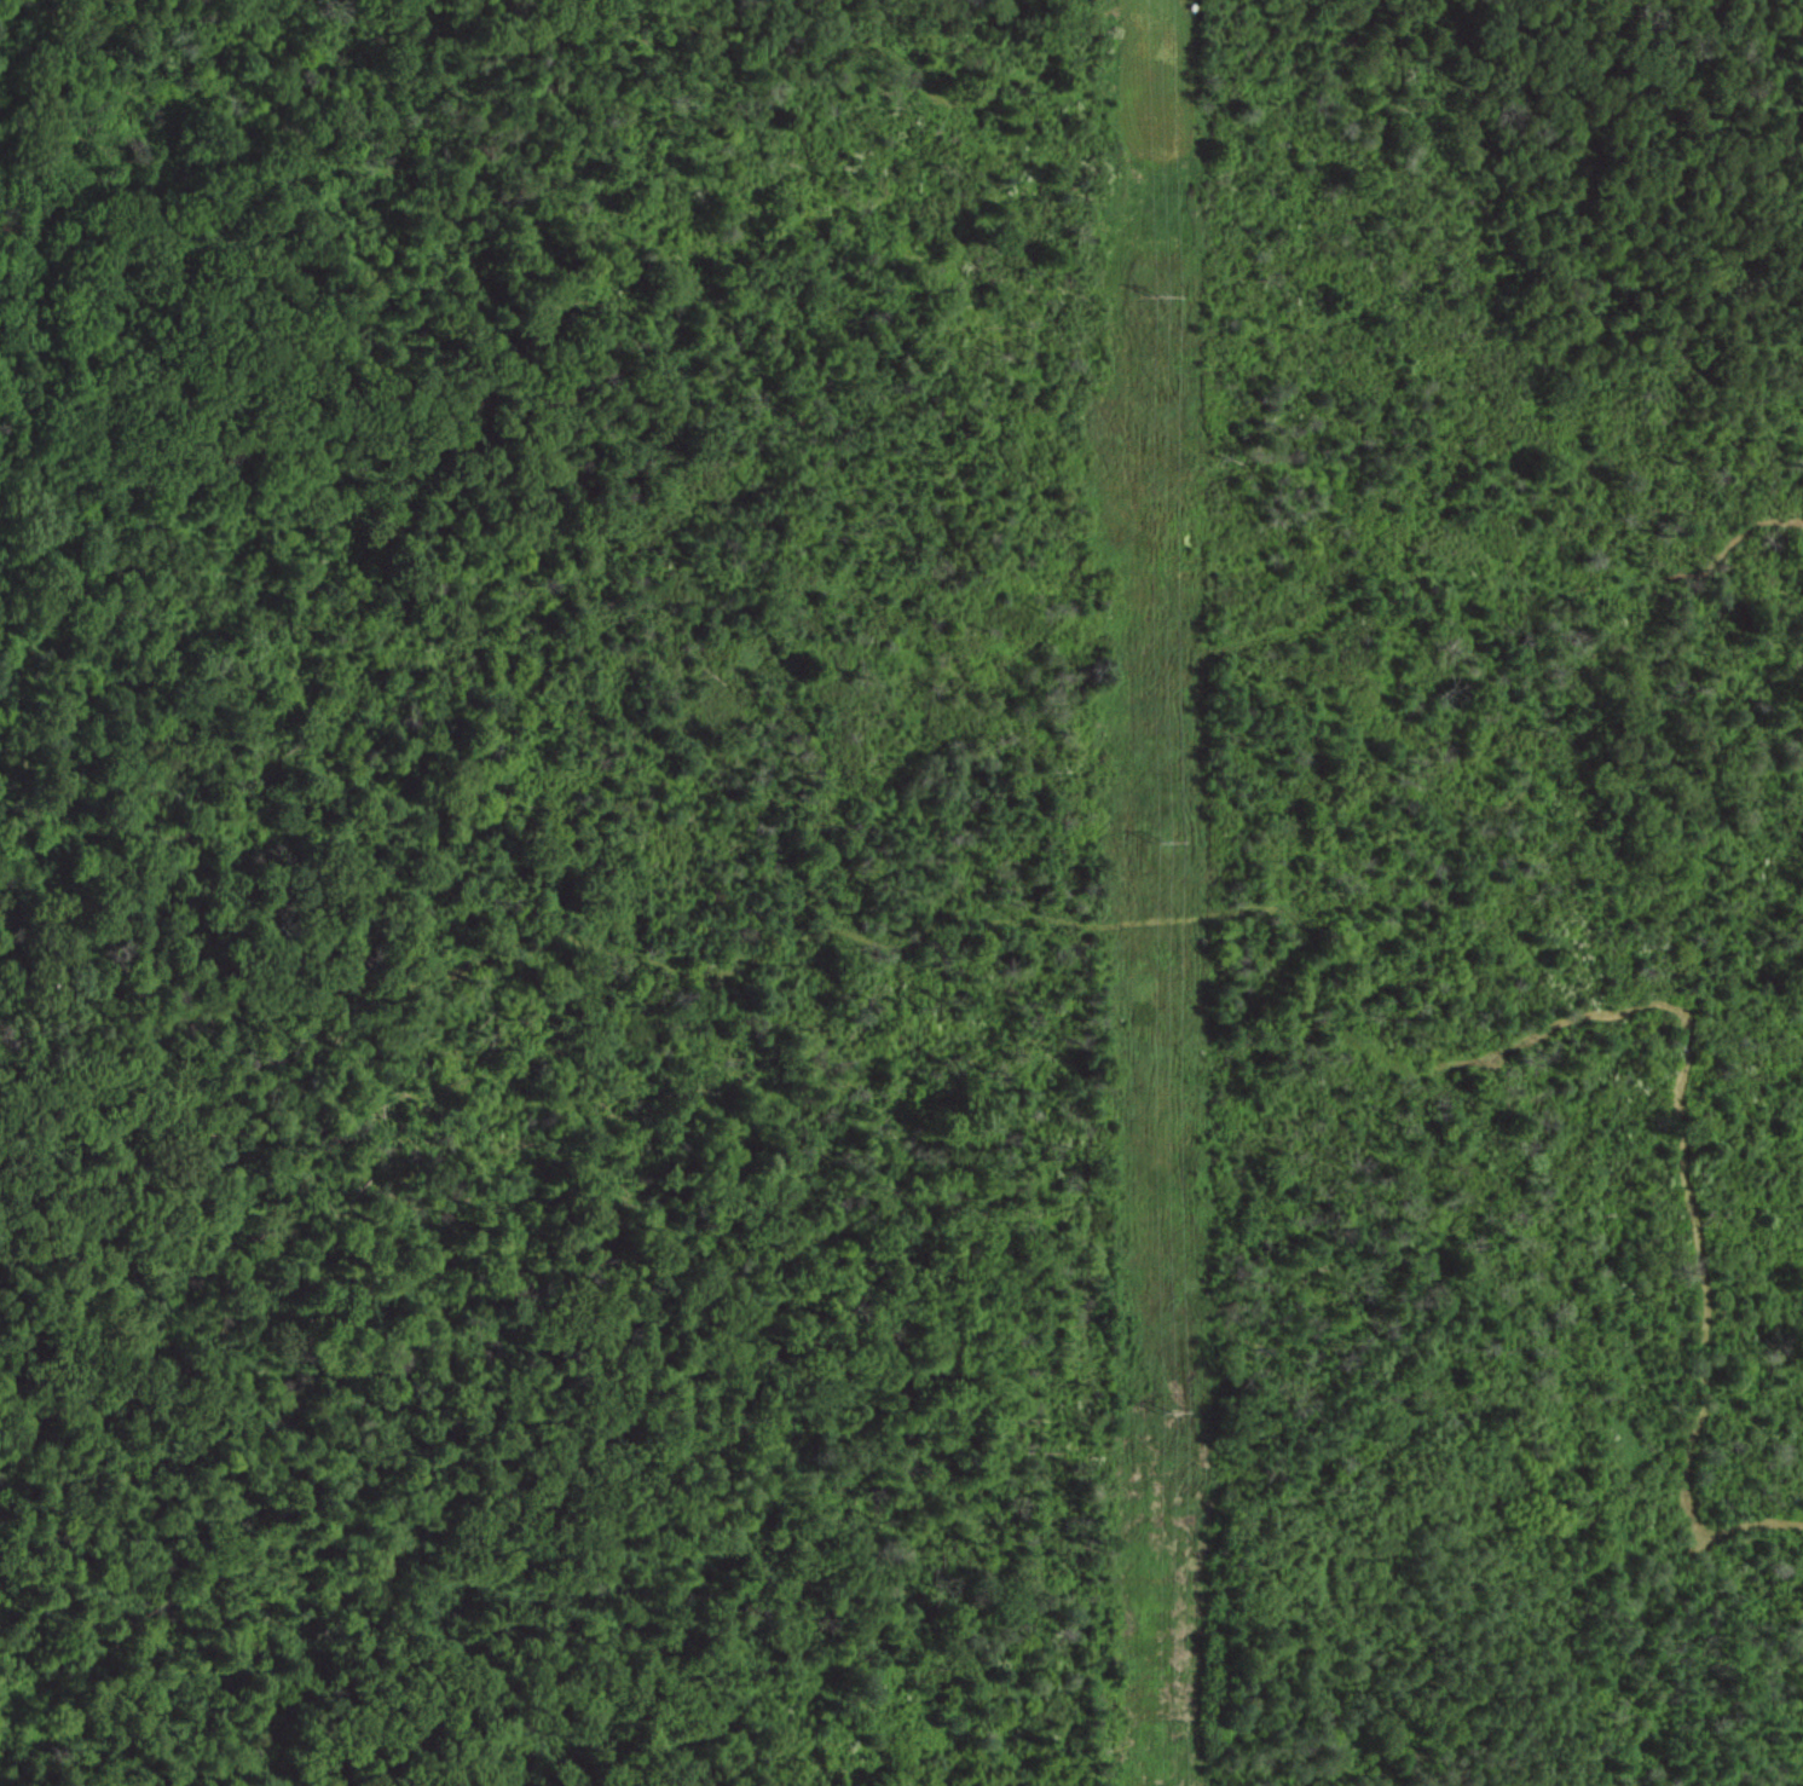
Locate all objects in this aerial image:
power tower: (1139, 293)
power tower: (1142, 842)
power tower: (1146, 1414)

